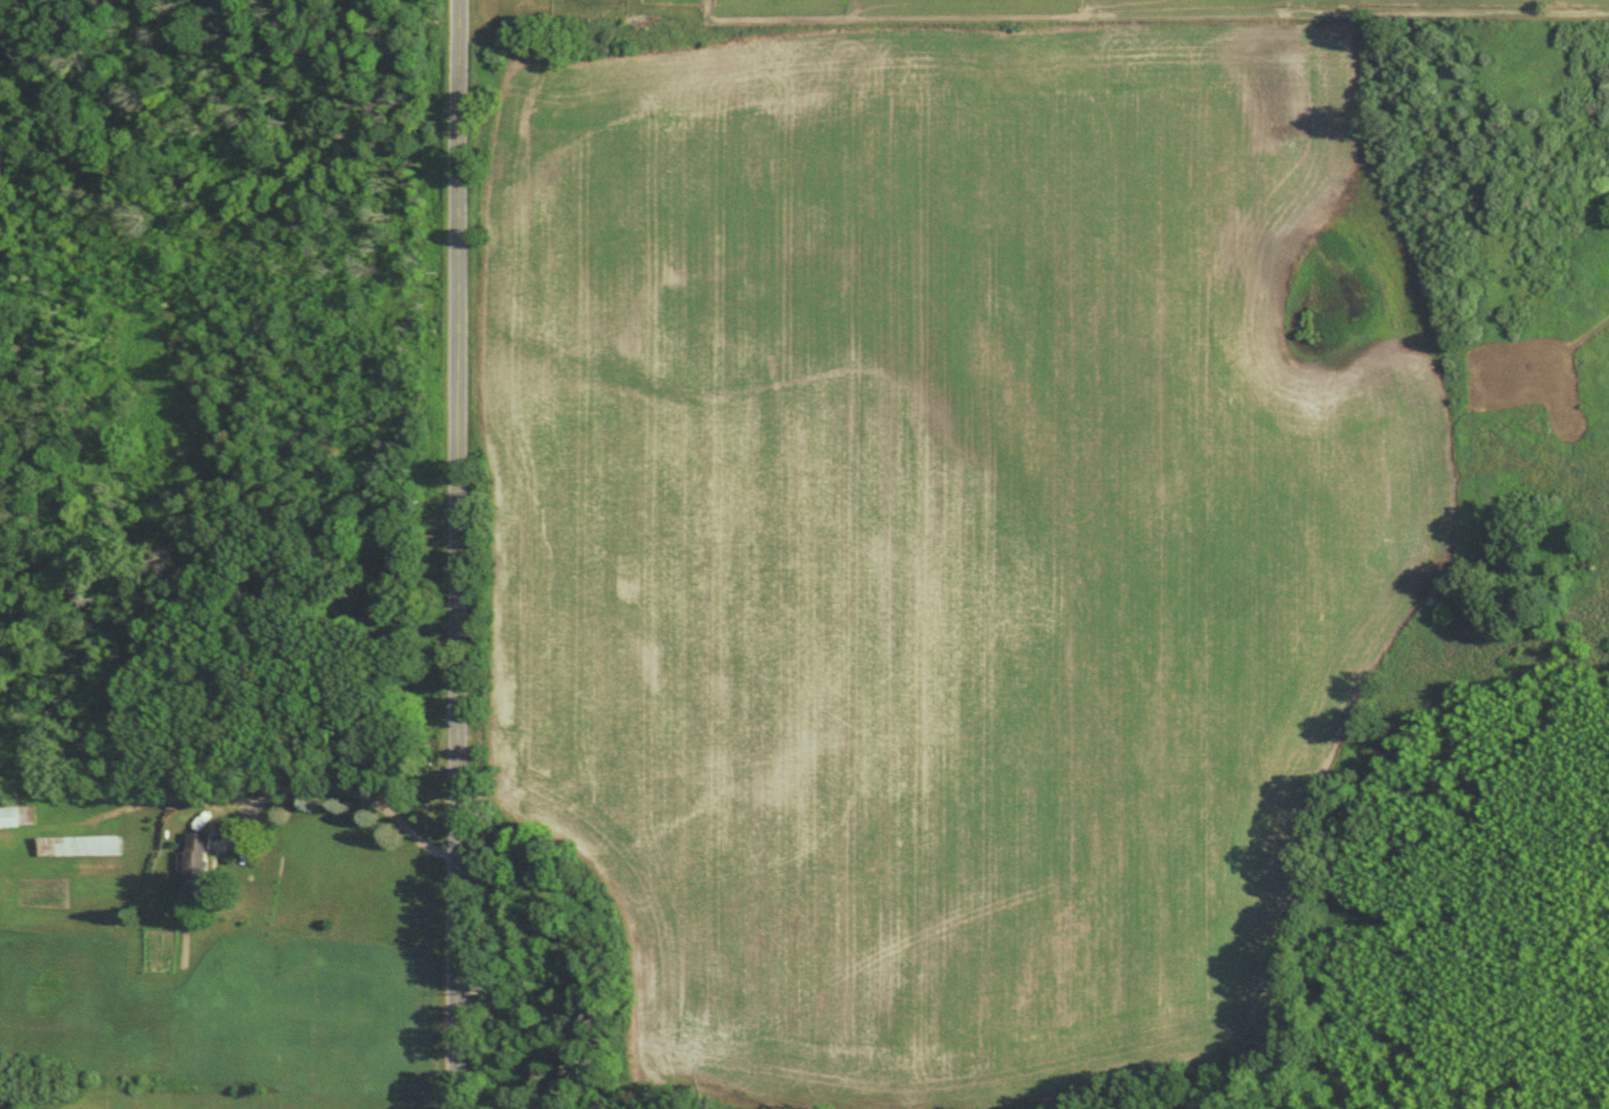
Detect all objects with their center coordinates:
road: (462, 554)
road: (351, 791)
road: (175, 796)
building: (16, 815)
building: (79, 845)
building: (200, 862)

